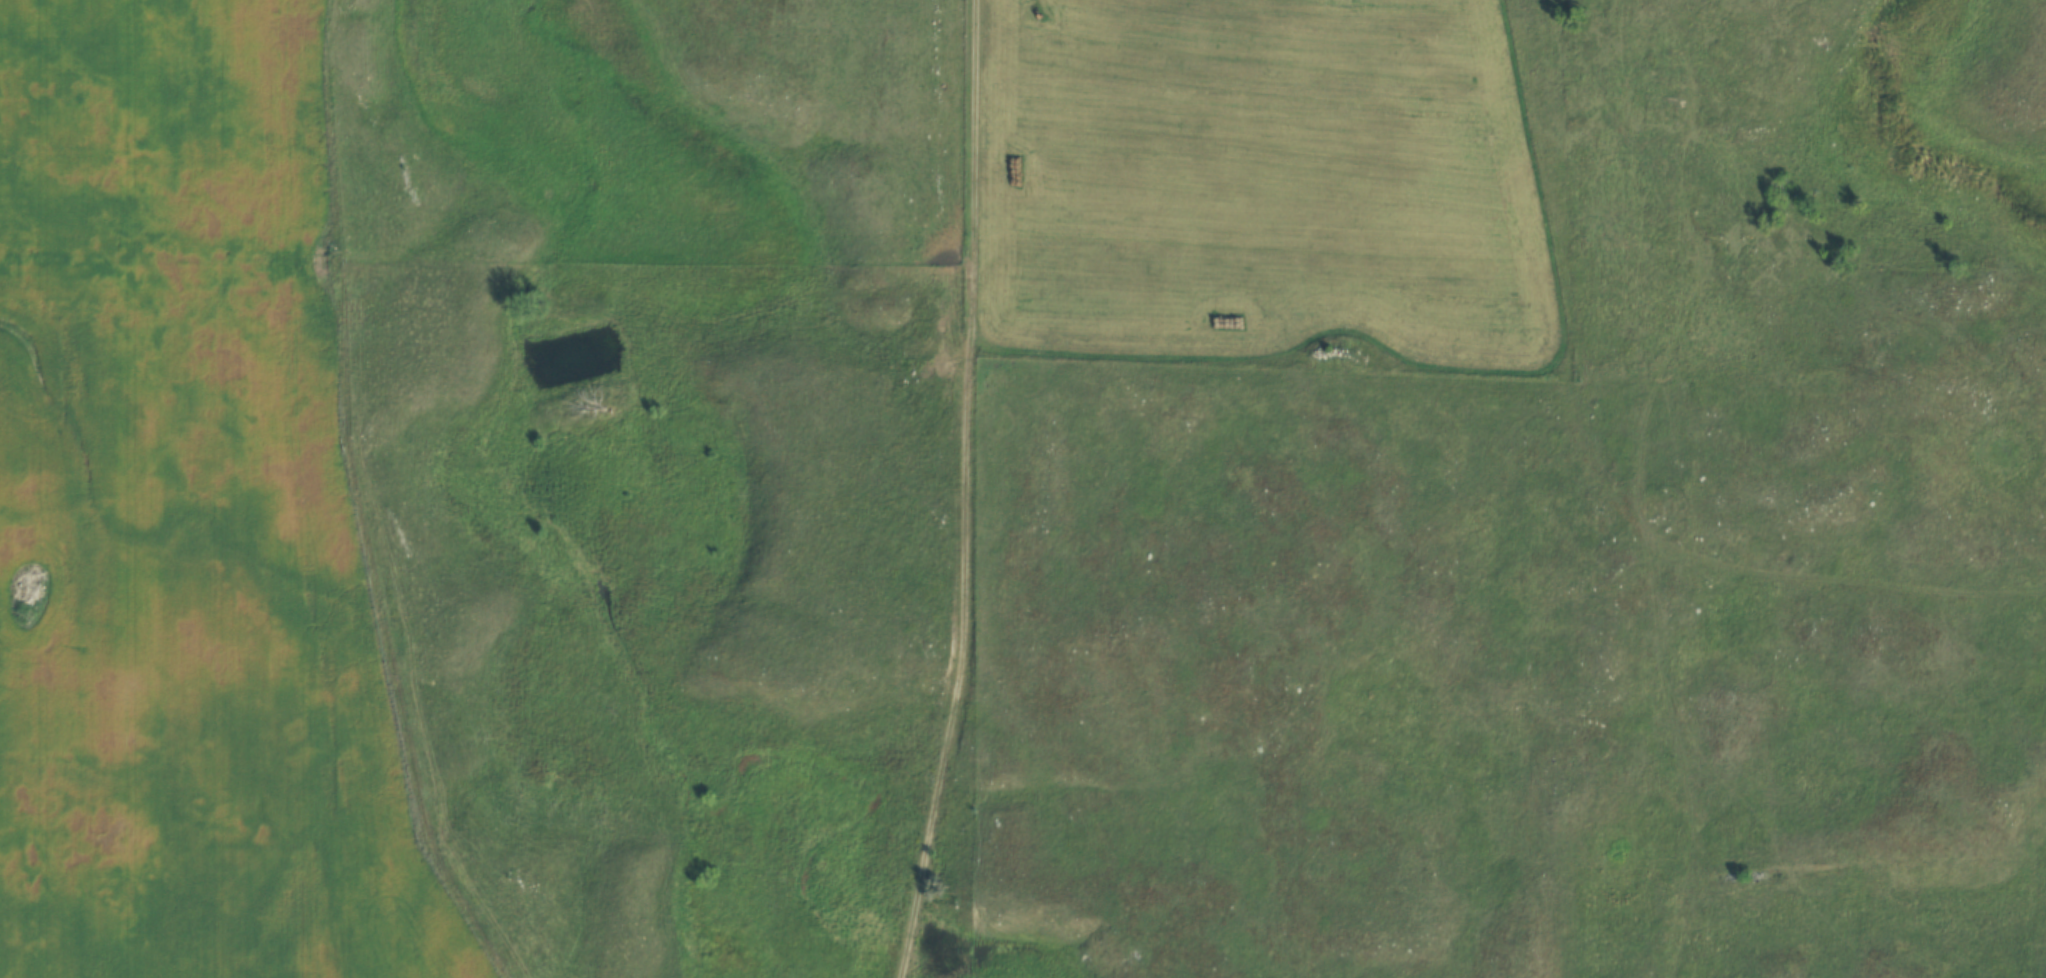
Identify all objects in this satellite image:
road: (973, 491)

